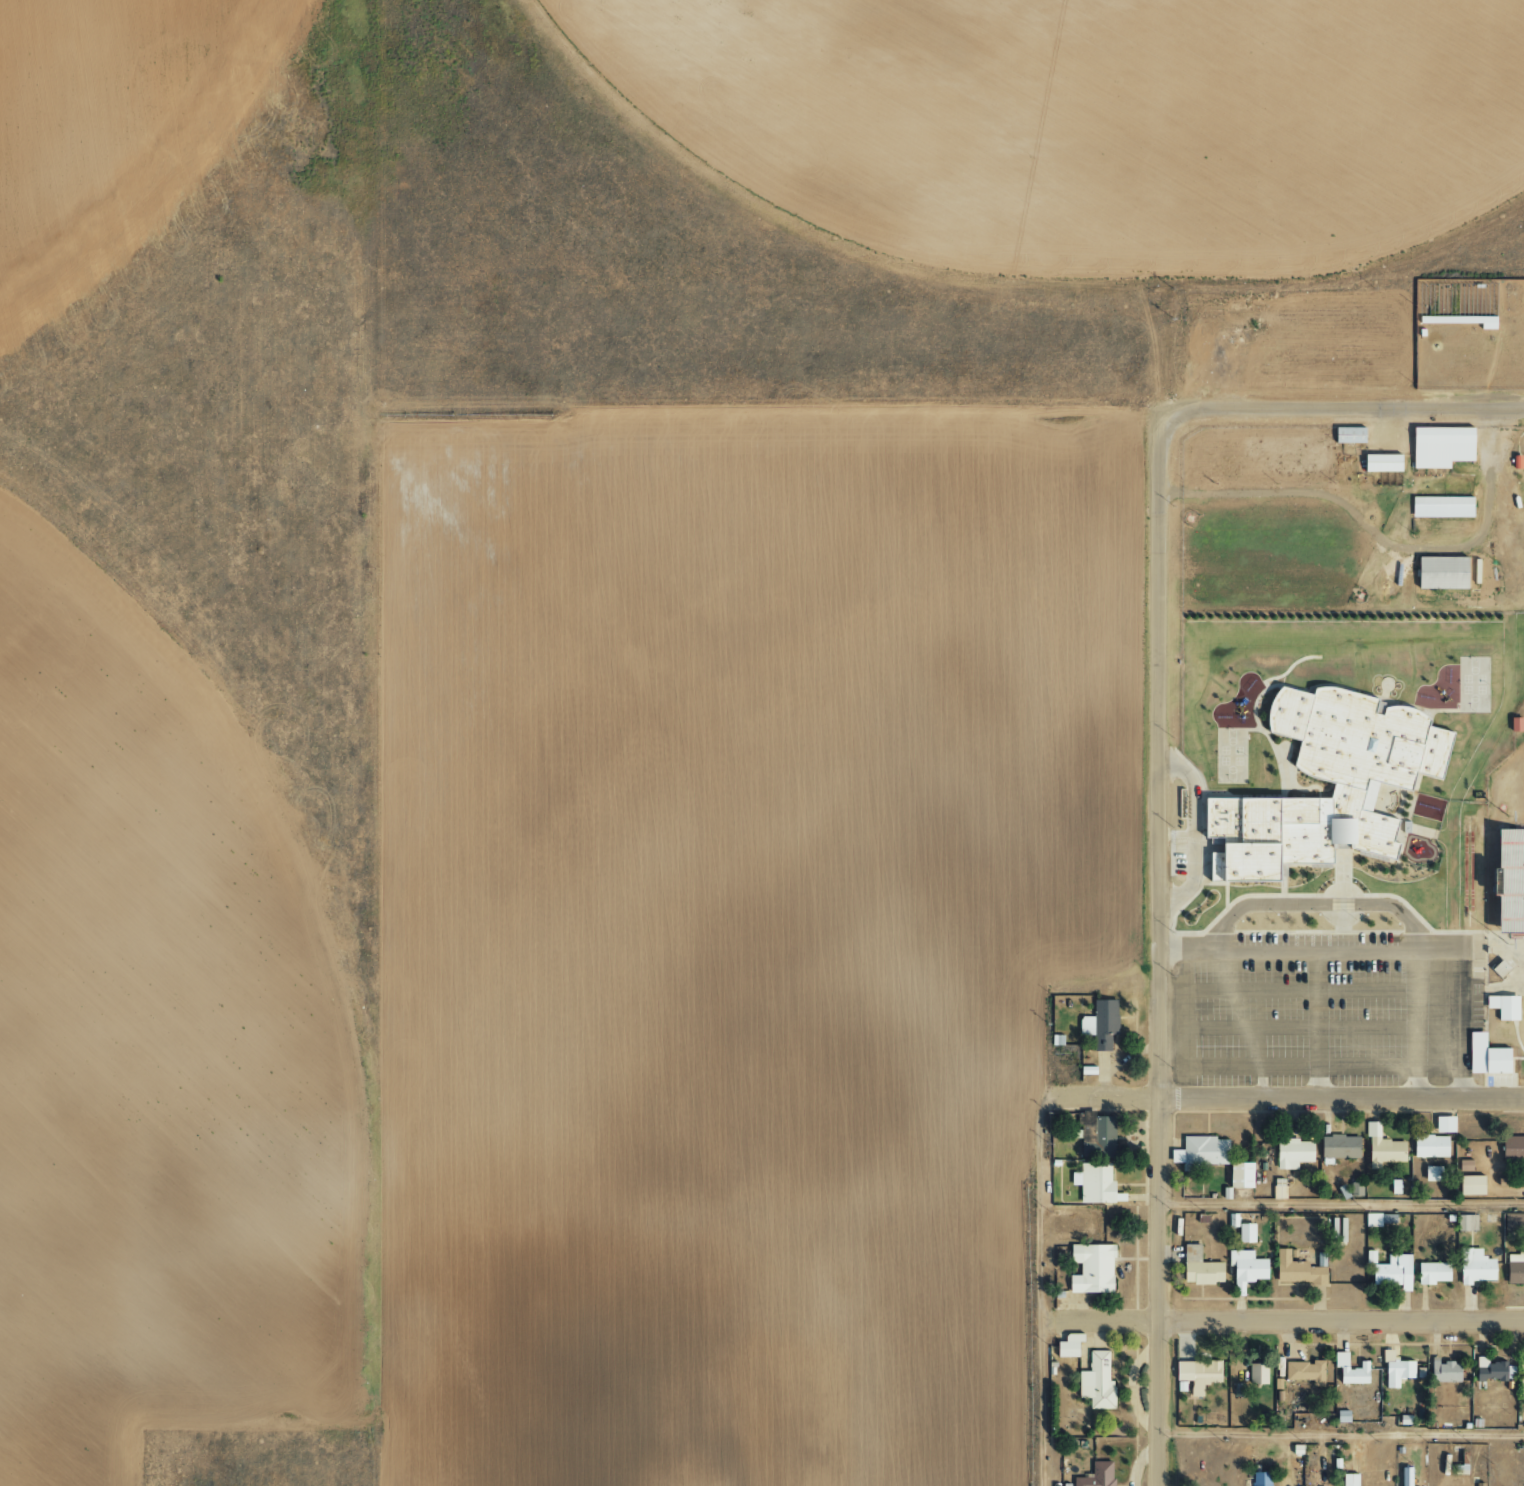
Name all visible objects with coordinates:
road: (1339, 410)
building: (1347, 435)
building: (1440, 446)
building: (1380, 463)
building: (1440, 506)
road: (1384, 538)
building: (1439, 572)
building: (1514, 724)
building: (1363, 780)
stadium: (1505, 911)
road: (1383, 958)
road: (1164, 962)
building: (1498, 968)
building: (1502, 1006)
parking lot: (1331, 1007)
building: (1099, 1024)
building: (1484, 1056)
road: (1294, 1102)
building: (1444, 1124)
building: (1100, 1137)
building: (1429, 1146)
building: (1338, 1147)
building: (1382, 1148)
building: (1511, 1148)
building: (1201, 1152)
building: (1292, 1153)
building: (1465, 1165)
building: (1432, 1174)
building: (1237, 1175)
building: (1095, 1184)
building: (1471, 1185)
building: (1394, 1187)
building: (1278, 1189)
road: (1342, 1203)
building: (1377, 1220)
building: (1465, 1222)
building: (1511, 1222)
building: (1244, 1233)
building: (1245, 1266)
building: (1473, 1267)
building: (1197, 1268)
building: (1090, 1269)
building: (1295, 1269)
building: (1514, 1269)
building: (1391, 1272)
building: (1430, 1273)
road: (1037, 1284)
road: (1280, 1318)
building: (1068, 1346)
building: (1349, 1370)
building: (1394, 1370)
building: (1443, 1371)
building: (1304, 1372)
building: (1256, 1374)
building: (1196, 1375)
building: (1098, 1381)
building: (1521, 1382)
road: (1342, 1433)
building: (1096, 1475)
building: (1405, 1477)
building: (1259, 1479)
building: (1349, 1480)

